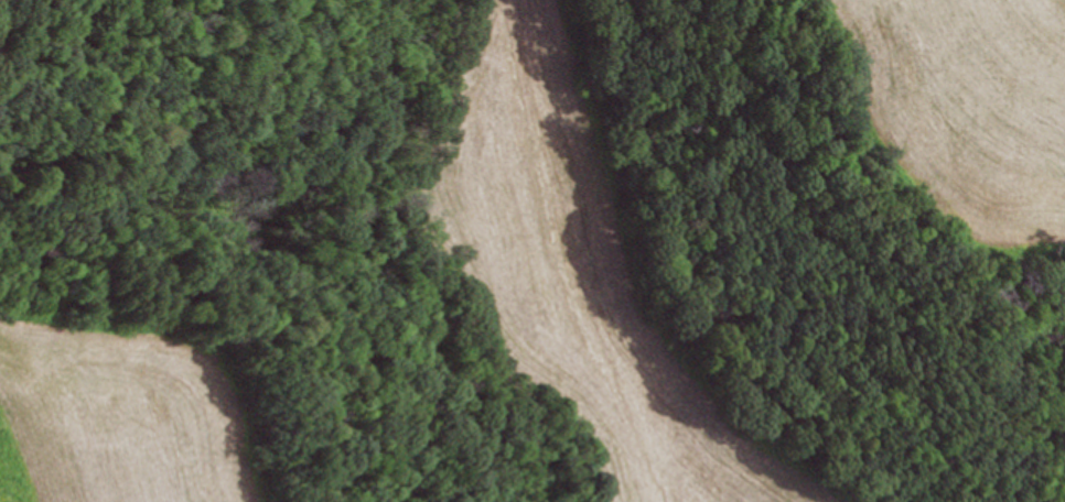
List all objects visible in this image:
crop: (970, 119)
crop: (583, 276)
crop: (109, 415)

